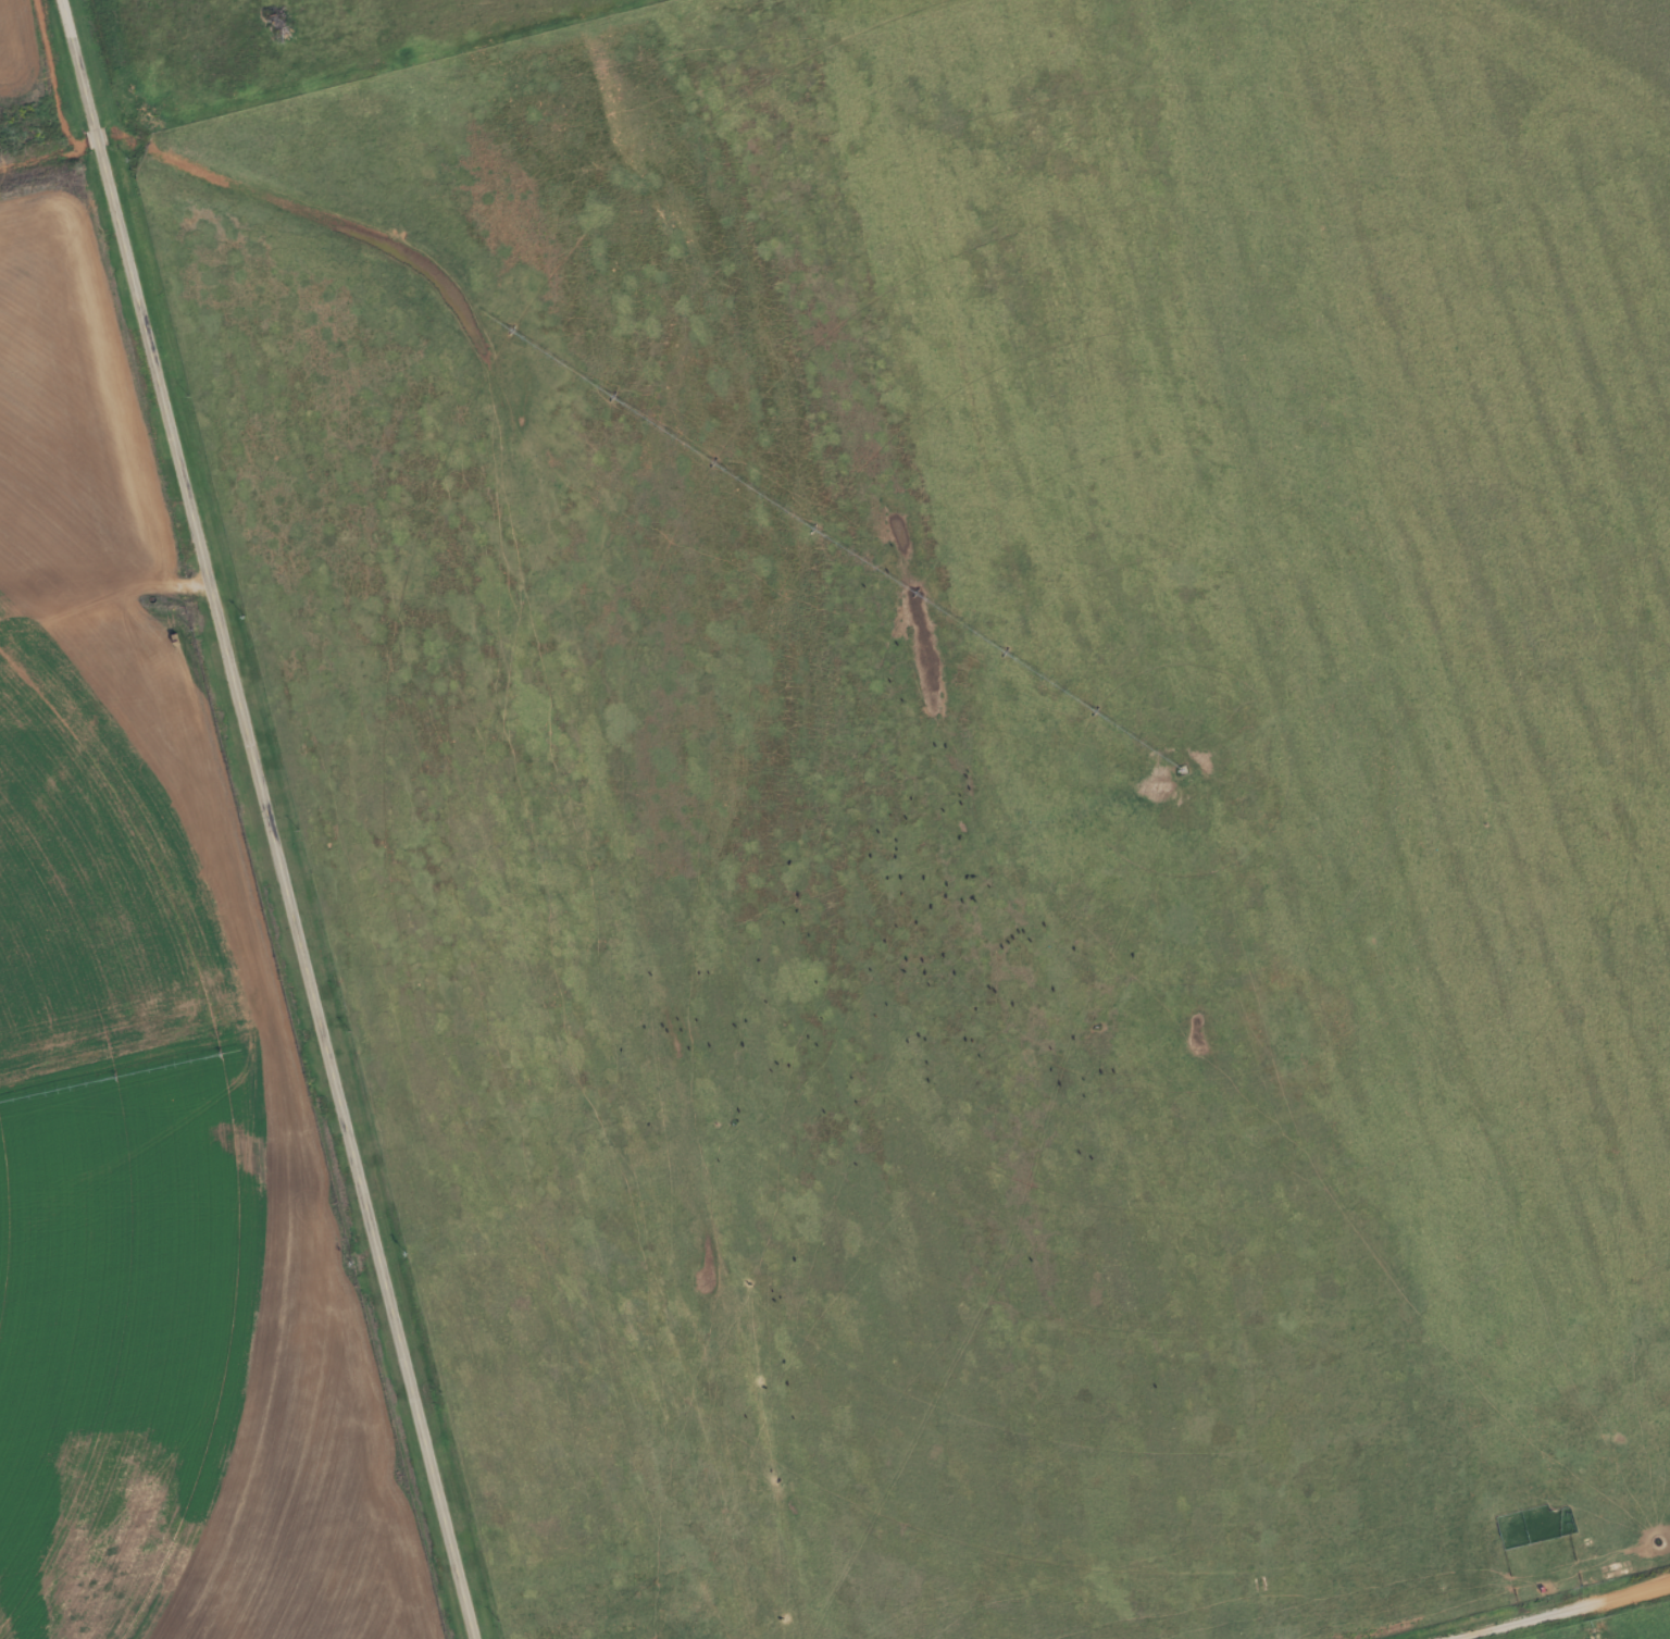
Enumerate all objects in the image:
road: (262, 819)
road: (1557, 1610)

